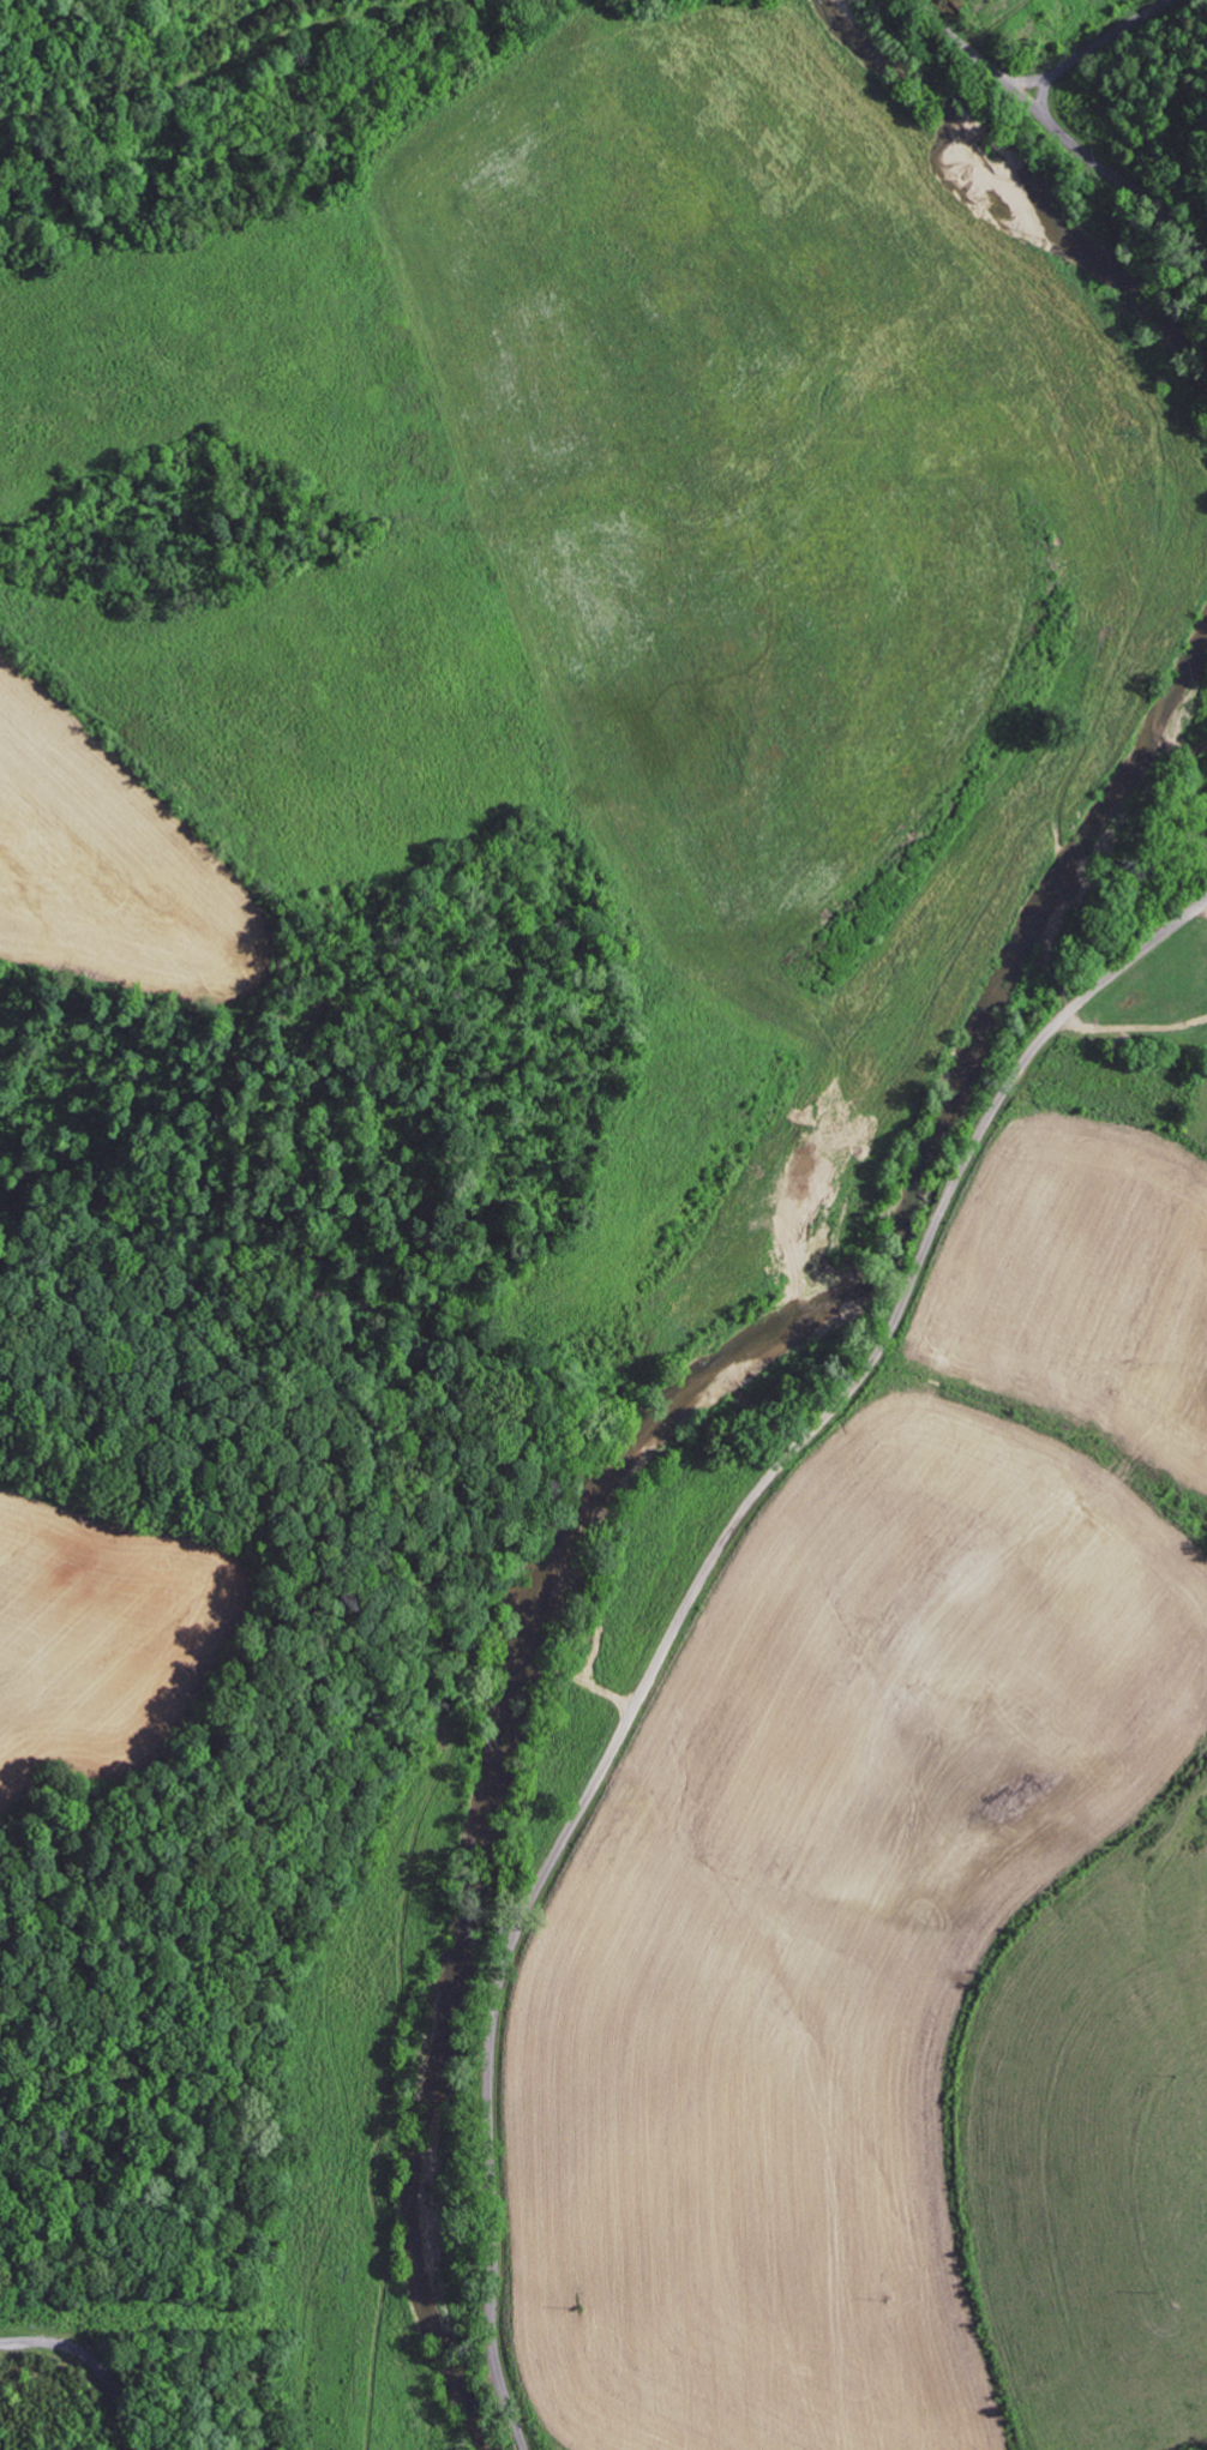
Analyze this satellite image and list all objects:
road: (1097, 47)
road: (216, 50)
road: (122, 96)
road: (1062, 132)
road: (685, 1608)
road: (90, 2365)
road: (562, 2439)

